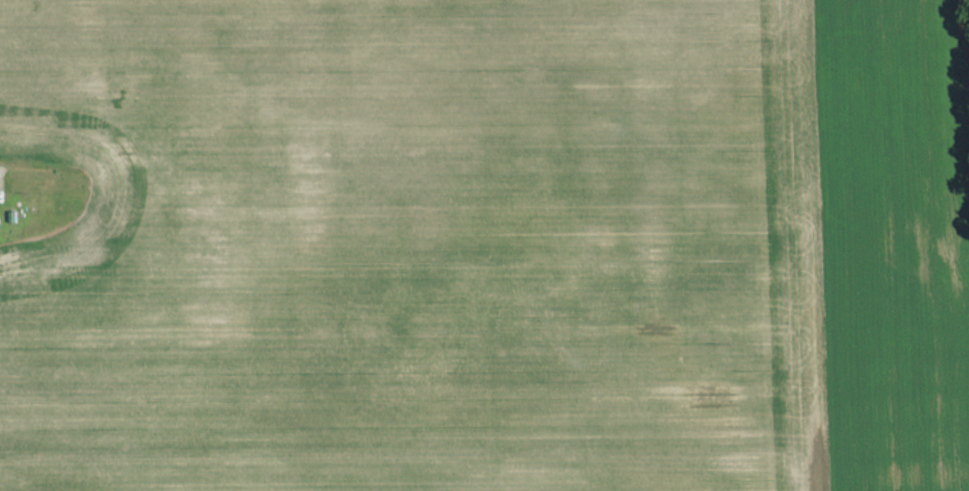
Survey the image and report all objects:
crop: (893, 243)
crop: (401, 247)

